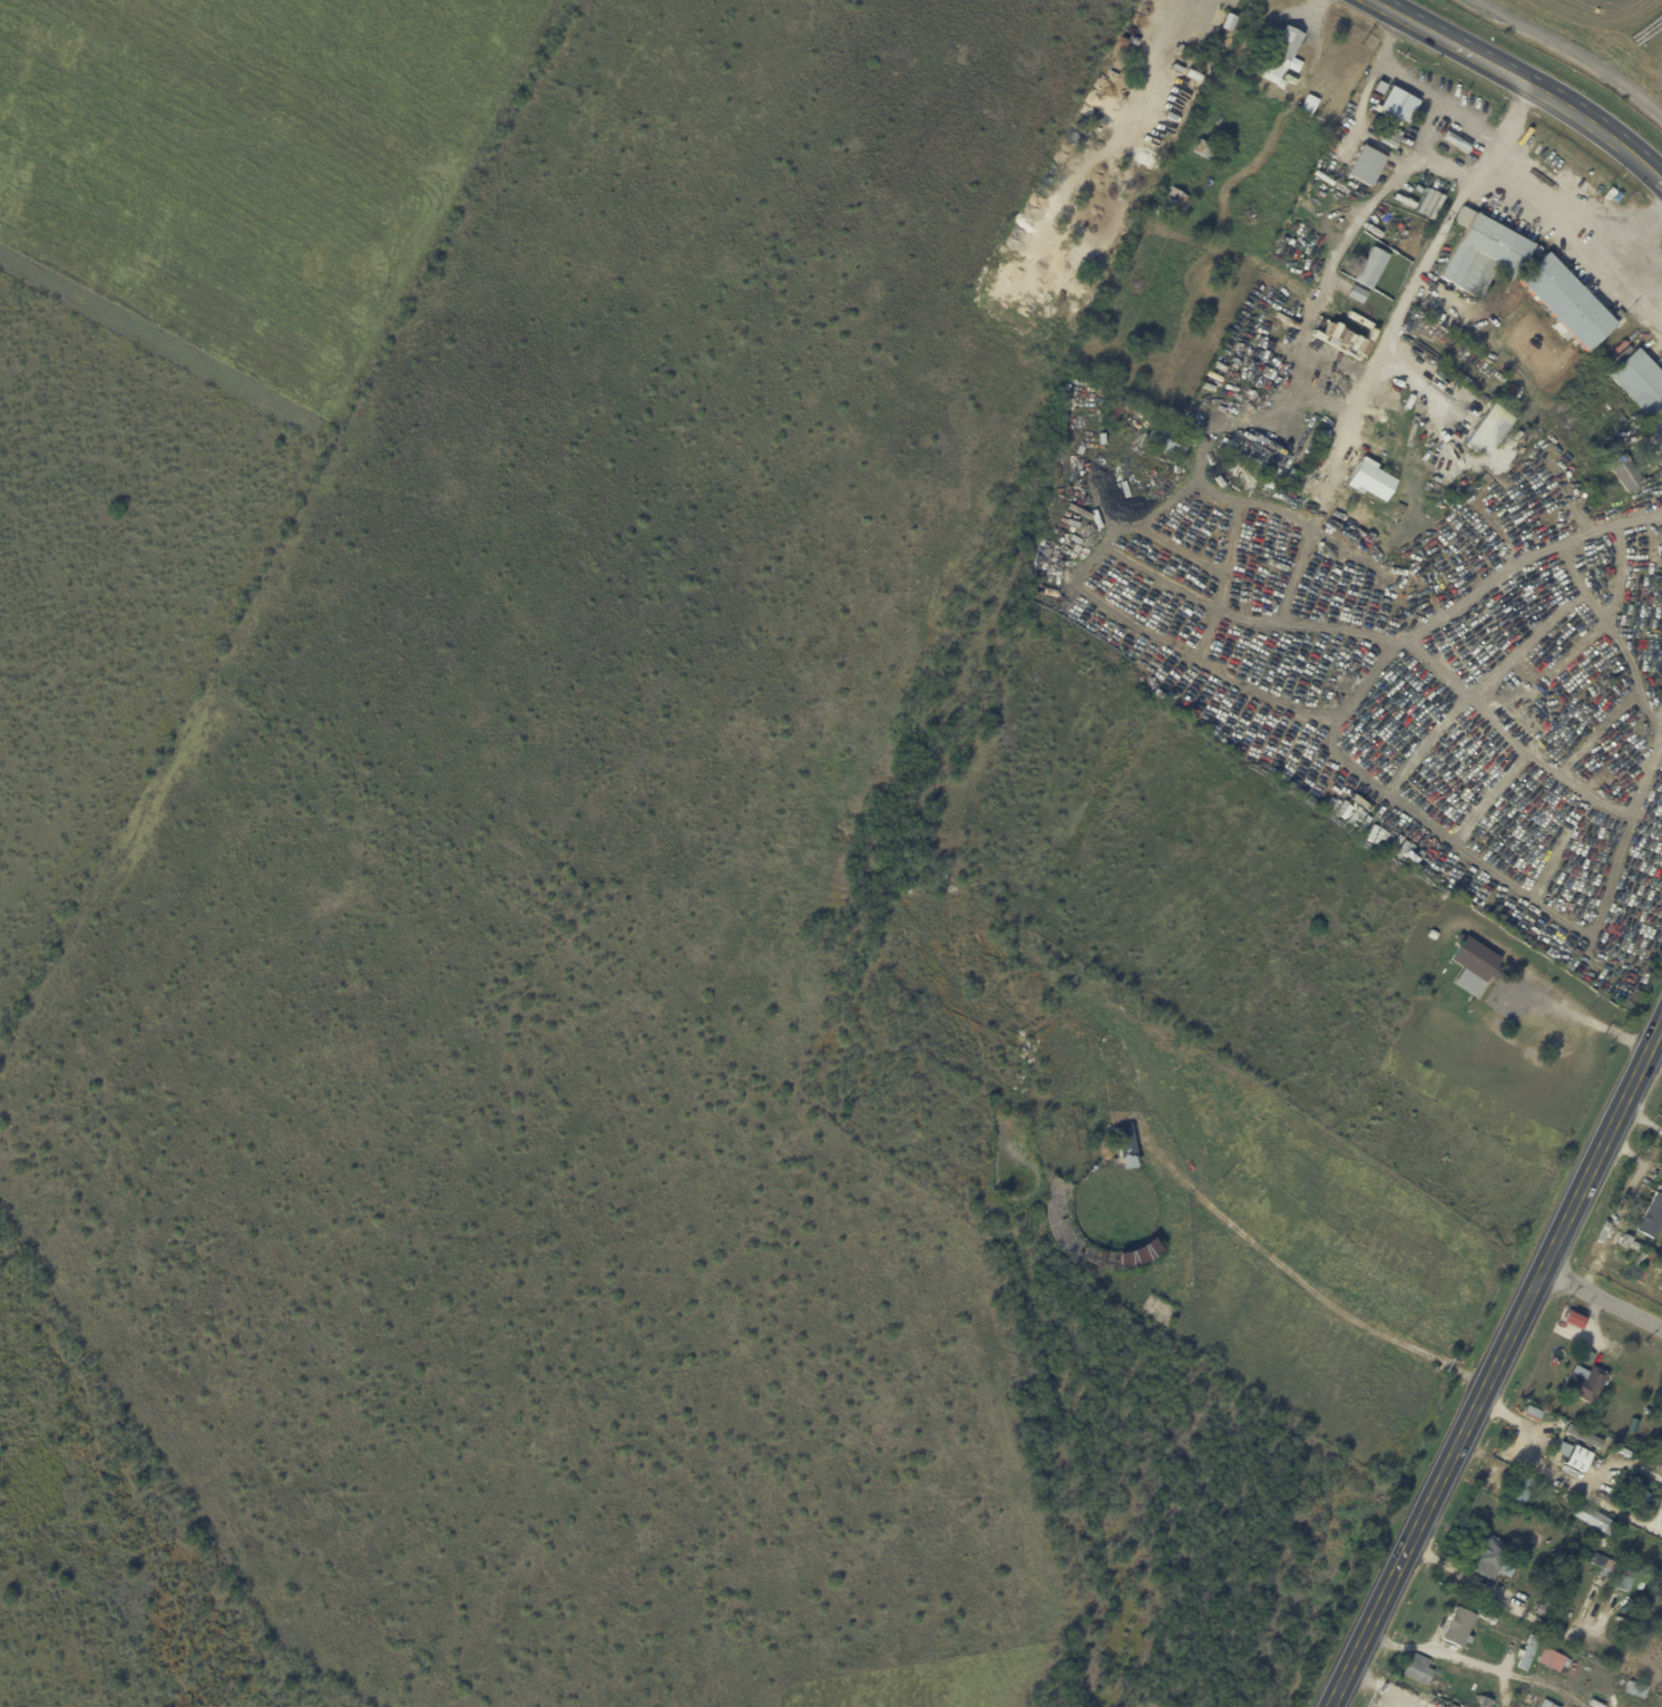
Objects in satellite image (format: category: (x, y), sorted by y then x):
building: (1236, 6)
landfill: (1597, 39)
road: (1567, 50)
road: (1158, 53)
building: (1285, 55)
building: (1362, 61)
road: (1521, 79)
road: (1435, 100)
building: (1396, 105)
building: (1309, 107)
road: (1516, 114)
building: (1206, 150)
building: (1366, 166)
road: (1660, 176)
building: (1176, 204)
building: (1164, 226)
building: (1300, 226)
road: (1576, 231)
road: (1632, 231)
building: (1482, 255)
building: (1371, 267)
building: (1359, 294)
road: (1404, 302)
building: (1566, 303)
building: (1620, 323)
building: (1637, 381)
building: (1114, 410)
building: (1487, 431)
building: (1169, 440)
building: (1470, 458)
building: (1320, 460)
building: (1623, 474)
building: (1368, 481)
road: (1460, 607)
road: (1201, 662)
building: (1434, 935)
building: (1475, 964)
road: (1641, 1120)
building: (1124, 1141)
building: (1652, 1217)
building: (1627, 1243)
building: (1644, 1267)
building: (1210, 1272)
building: (1654, 1281)
road: (1602, 1298)
road: (1494, 1366)
building: (1584, 1379)
building: (1646, 1412)
building: (1580, 1435)
road: (1532, 1441)
building: (1557, 1451)
road: (1615, 1462)
building: (1516, 1486)
building: (1634, 1504)
road: (1621, 1514)
building: (1591, 1520)
building: (1487, 1560)
building: (1602, 1564)
building: (1622, 1581)
building: (1639, 1588)
road: (1495, 1596)
building: (1547, 1600)
building: (1640, 1612)
building: (1457, 1628)
building: (1526, 1652)
building: (1552, 1661)
building: (1416, 1669)
building: (1634, 1688)
building: (1483, 1703)
building: (1548, 1705)

